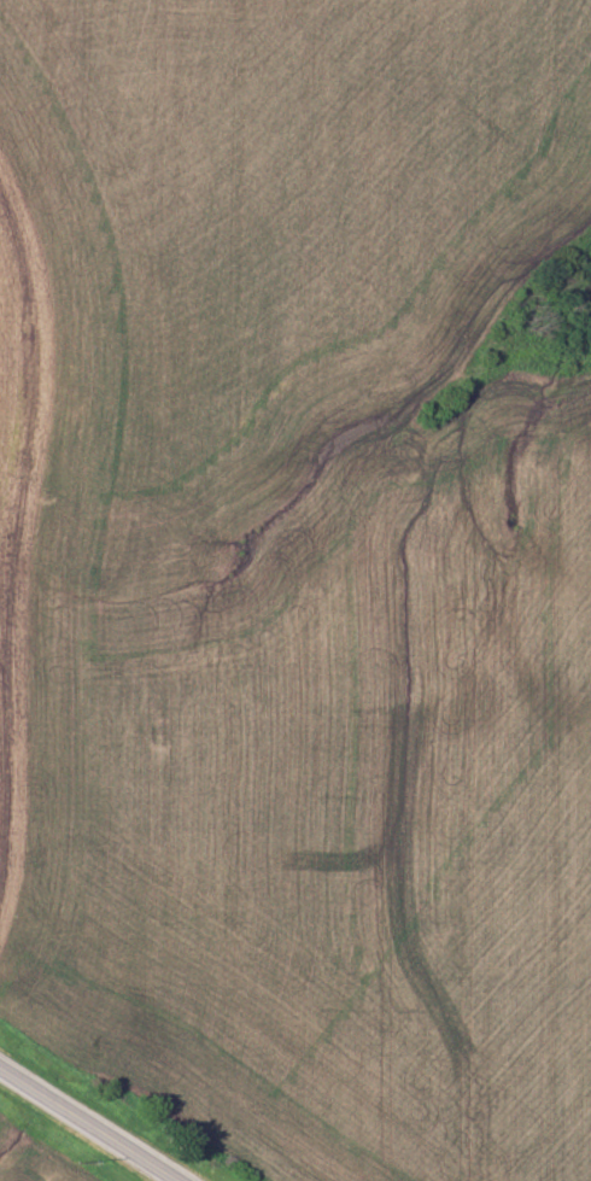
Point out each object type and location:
road: (90, 1124)

